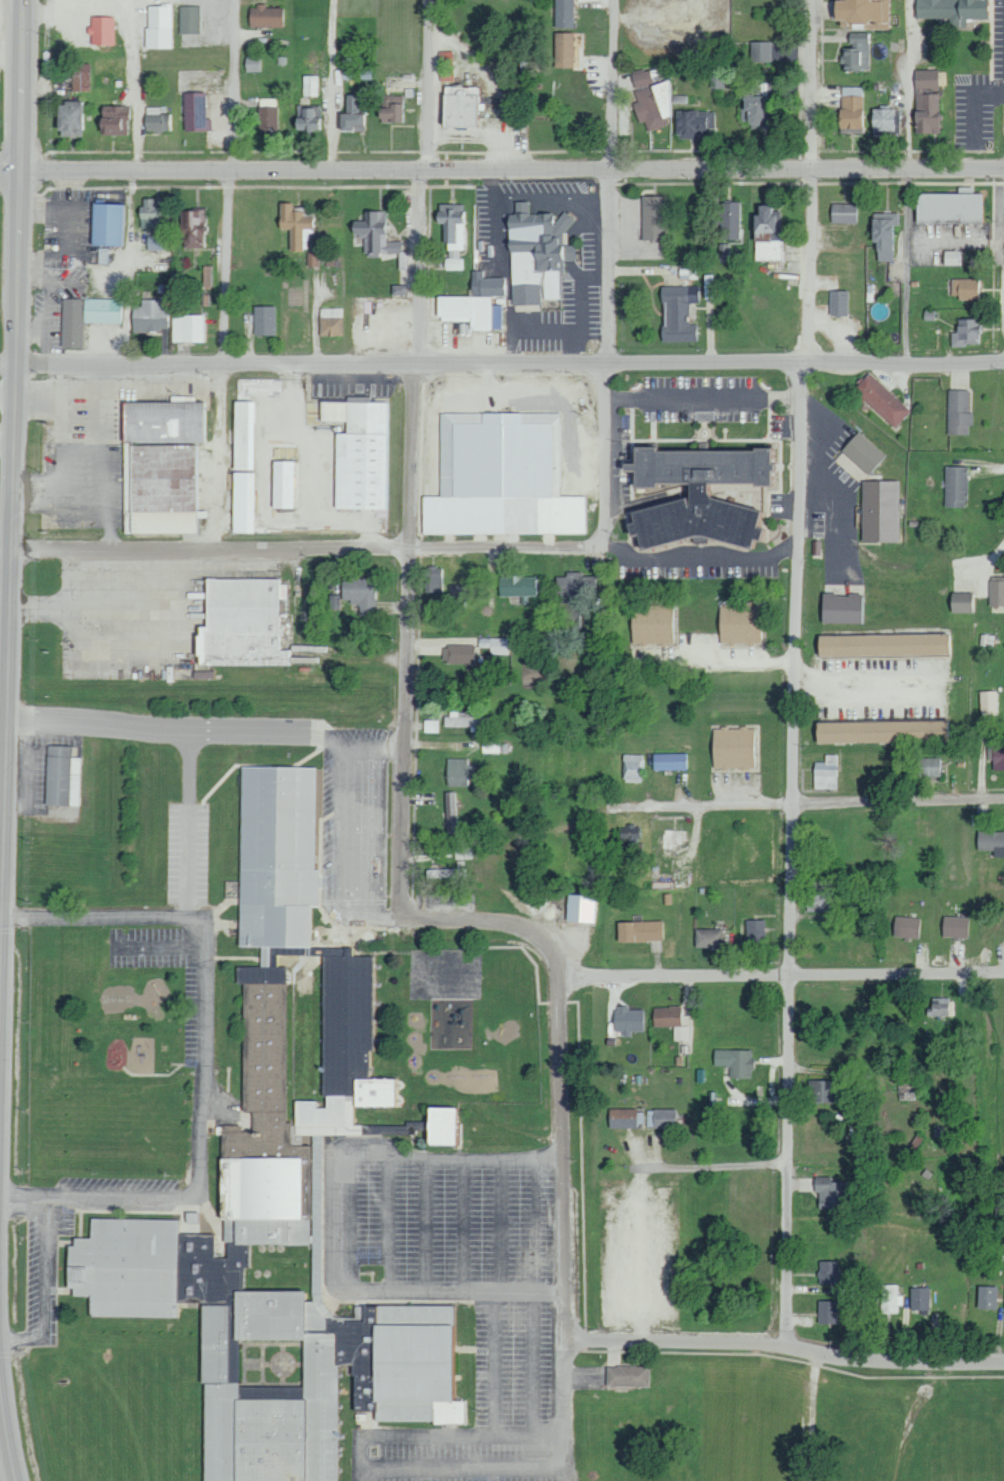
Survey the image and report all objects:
building: (564, 13)
building: (861, 13)
building: (264, 16)
building: (190, 19)
building: (159, 26)
building: (101, 30)
building: (566, 49)
building: (761, 51)
building: (855, 53)
building: (445, 58)
building: (253, 64)
building: (356, 74)
building: (446, 75)
building: (81, 77)
building: (717, 79)
road: (21, 85)
road: (139, 85)
road: (231, 85)
building: (311, 85)
road: (336, 85)
road: (427, 85)
road: (605, 85)
road: (812, 85)
building: (651, 100)
building: (926, 102)
building: (457, 106)
building: (851, 107)
building: (756, 108)
building: (389, 109)
building: (195, 112)
building: (267, 114)
building: (352, 114)
building: (69, 118)
building: (157, 119)
building: (308, 119)
building: (112, 120)
building: (884, 121)
building: (692, 124)
road: (502, 170)
road: (907, 180)
building: (948, 207)
building: (152, 212)
building: (842, 213)
building: (653, 218)
building: (731, 220)
building: (106, 224)
building: (296, 226)
building: (191, 228)
building: (452, 233)
building: (882, 234)
building: (765, 236)
building: (377, 237)
building: (155, 242)
building: (536, 254)
building: (951, 257)
building: (207, 277)
building: (490, 286)
building: (709, 286)
building: (963, 288)
building: (837, 303)
building: (470, 311)
building: (677, 313)
building: (149, 315)
road: (317, 316)
building: (85, 317)
building: (264, 320)
building: (330, 321)
building: (188, 328)
building: (967, 333)
road: (223, 361)
road: (605, 361)
road: (501, 362)
building: (880, 400)
building: (958, 412)
building: (242, 436)
building: (360, 453)
building: (862, 453)
building: (161, 466)
building: (501, 478)
building: (281, 484)
building: (955, 487)
building: (696, 496)
building: (242, 502)
building: (879, 511)
road: (414, 539)
road: (398, 551)
road: (12, 564)
building: (433, 579)
building: (516, 586)
building: (996, 592)
building: (359, 594)
building: (457, 596)
building: (574, 600)
building: (335, 601)
building: (961, 603)
building: (841, 608)
building: (240, 624)
building: (651, 624)
building: (738, 624)
building: (495, 645)
building: (880, 645)
building: (458, 654)
road: (864, 680)
building: (987, 702)
building: (431, 725)
road: (291, 730)
building: (879, 732)
road: (3, 733)
building: (731, 747)
building: (997, 755)
road: (794, 757)
building: (669, 761)
building: (928, 766)
building: (634, 768)
building: (456, 772)
building: (825, 772)
building: (61, 776)
road: (814, 804)
building: (452, 812)
building: (630, 841)
building: (991, 842)
building: (463, 853)
building: (446, 872)
building: (819, 899)
building: (580, 908)
road: (101, 920)
road: (502, 921)
road: (0, 924)
building: (905, 926)
building: (954, 926)
building: (754, 930)
building: (639, 931)
building: (707, 938)
road: (1001, 975)
road: (781, 982)
building: (938, 1006)
building: (629, 1020)
building: (670, 1020)
building: (734, 1061)
building: (906, 1077)
building: (822, 1092)
building: (396, 1096)
building: (624, 1118)
building: (660, 1118)
building: (440, 1126)
building: (387, 1129)
road: (202, 1153)
road: (564, 1163)
road: (722, 1169)
building: (831, 1192)
building: (279, 1213)
road: (535, 1224)
road: (459, 1225)
building: (827, 1273)
building: (986, 1297)
building: (919, 1298)
building: (890, 1299)
building: (826, 1312)
road: (785, 1346)
building: (626, 1376)
road: (530, 1379)
road: (565, 1410)
road: (8, 1437)
road: (370, 1465)

